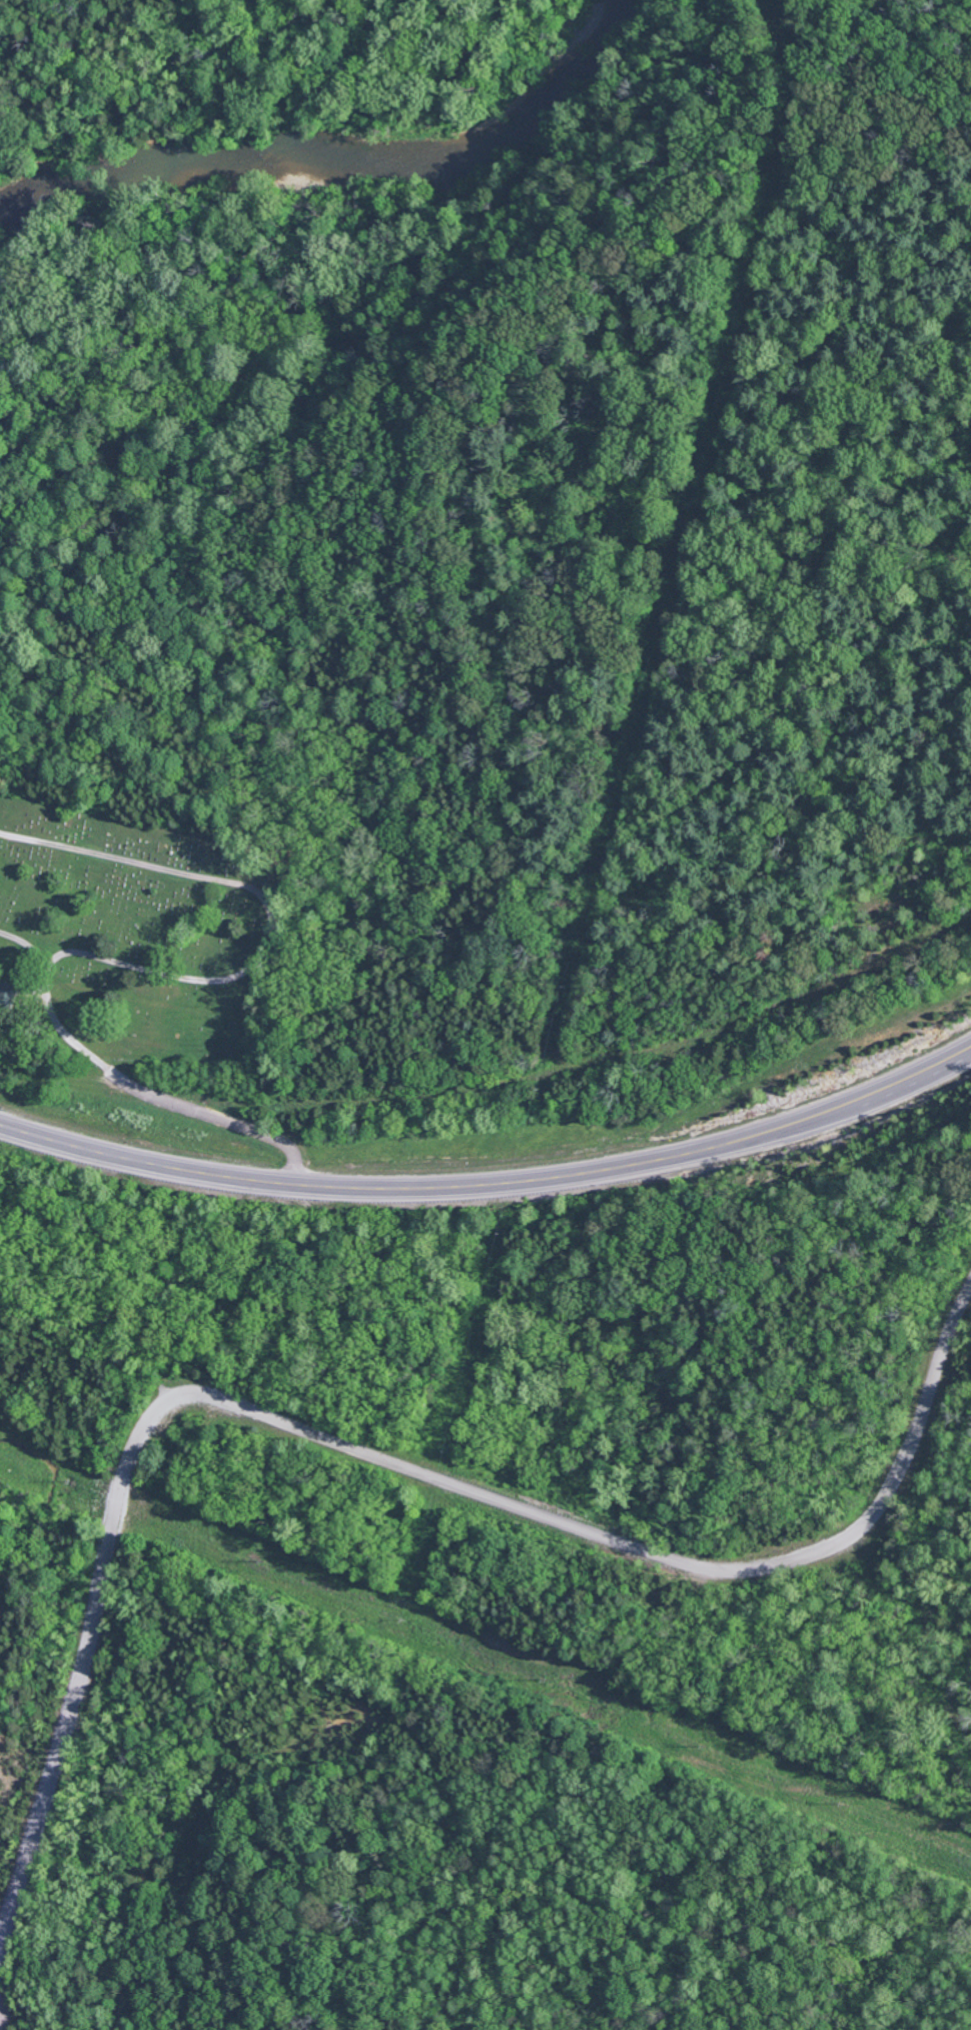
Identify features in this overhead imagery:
river: (342, 164)
park: (138, 929)
road: (493, 1184)
road: (146, 1291)
road: (74, 1394)
road: (628, 1542)
road: (76, 1692)

